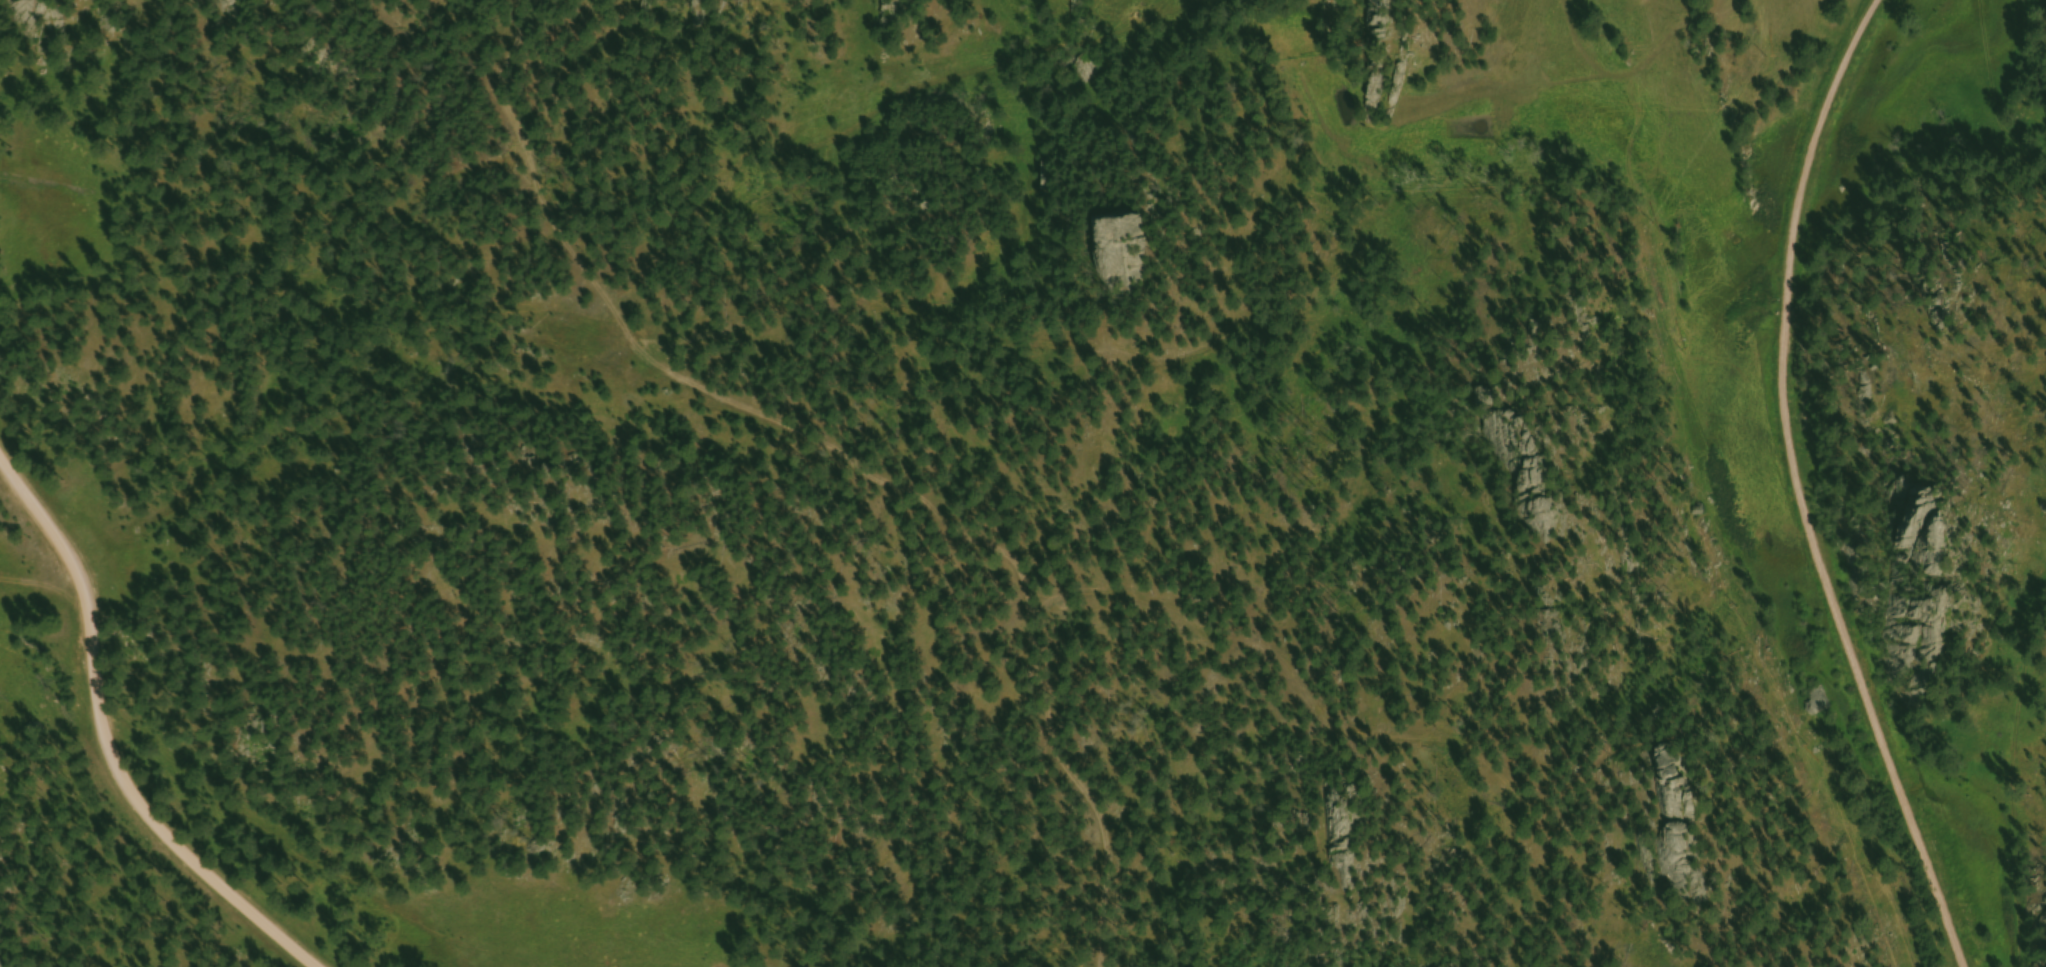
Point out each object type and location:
road: (1807, 486)
building: (1823, 706)
road: (107, 746)

